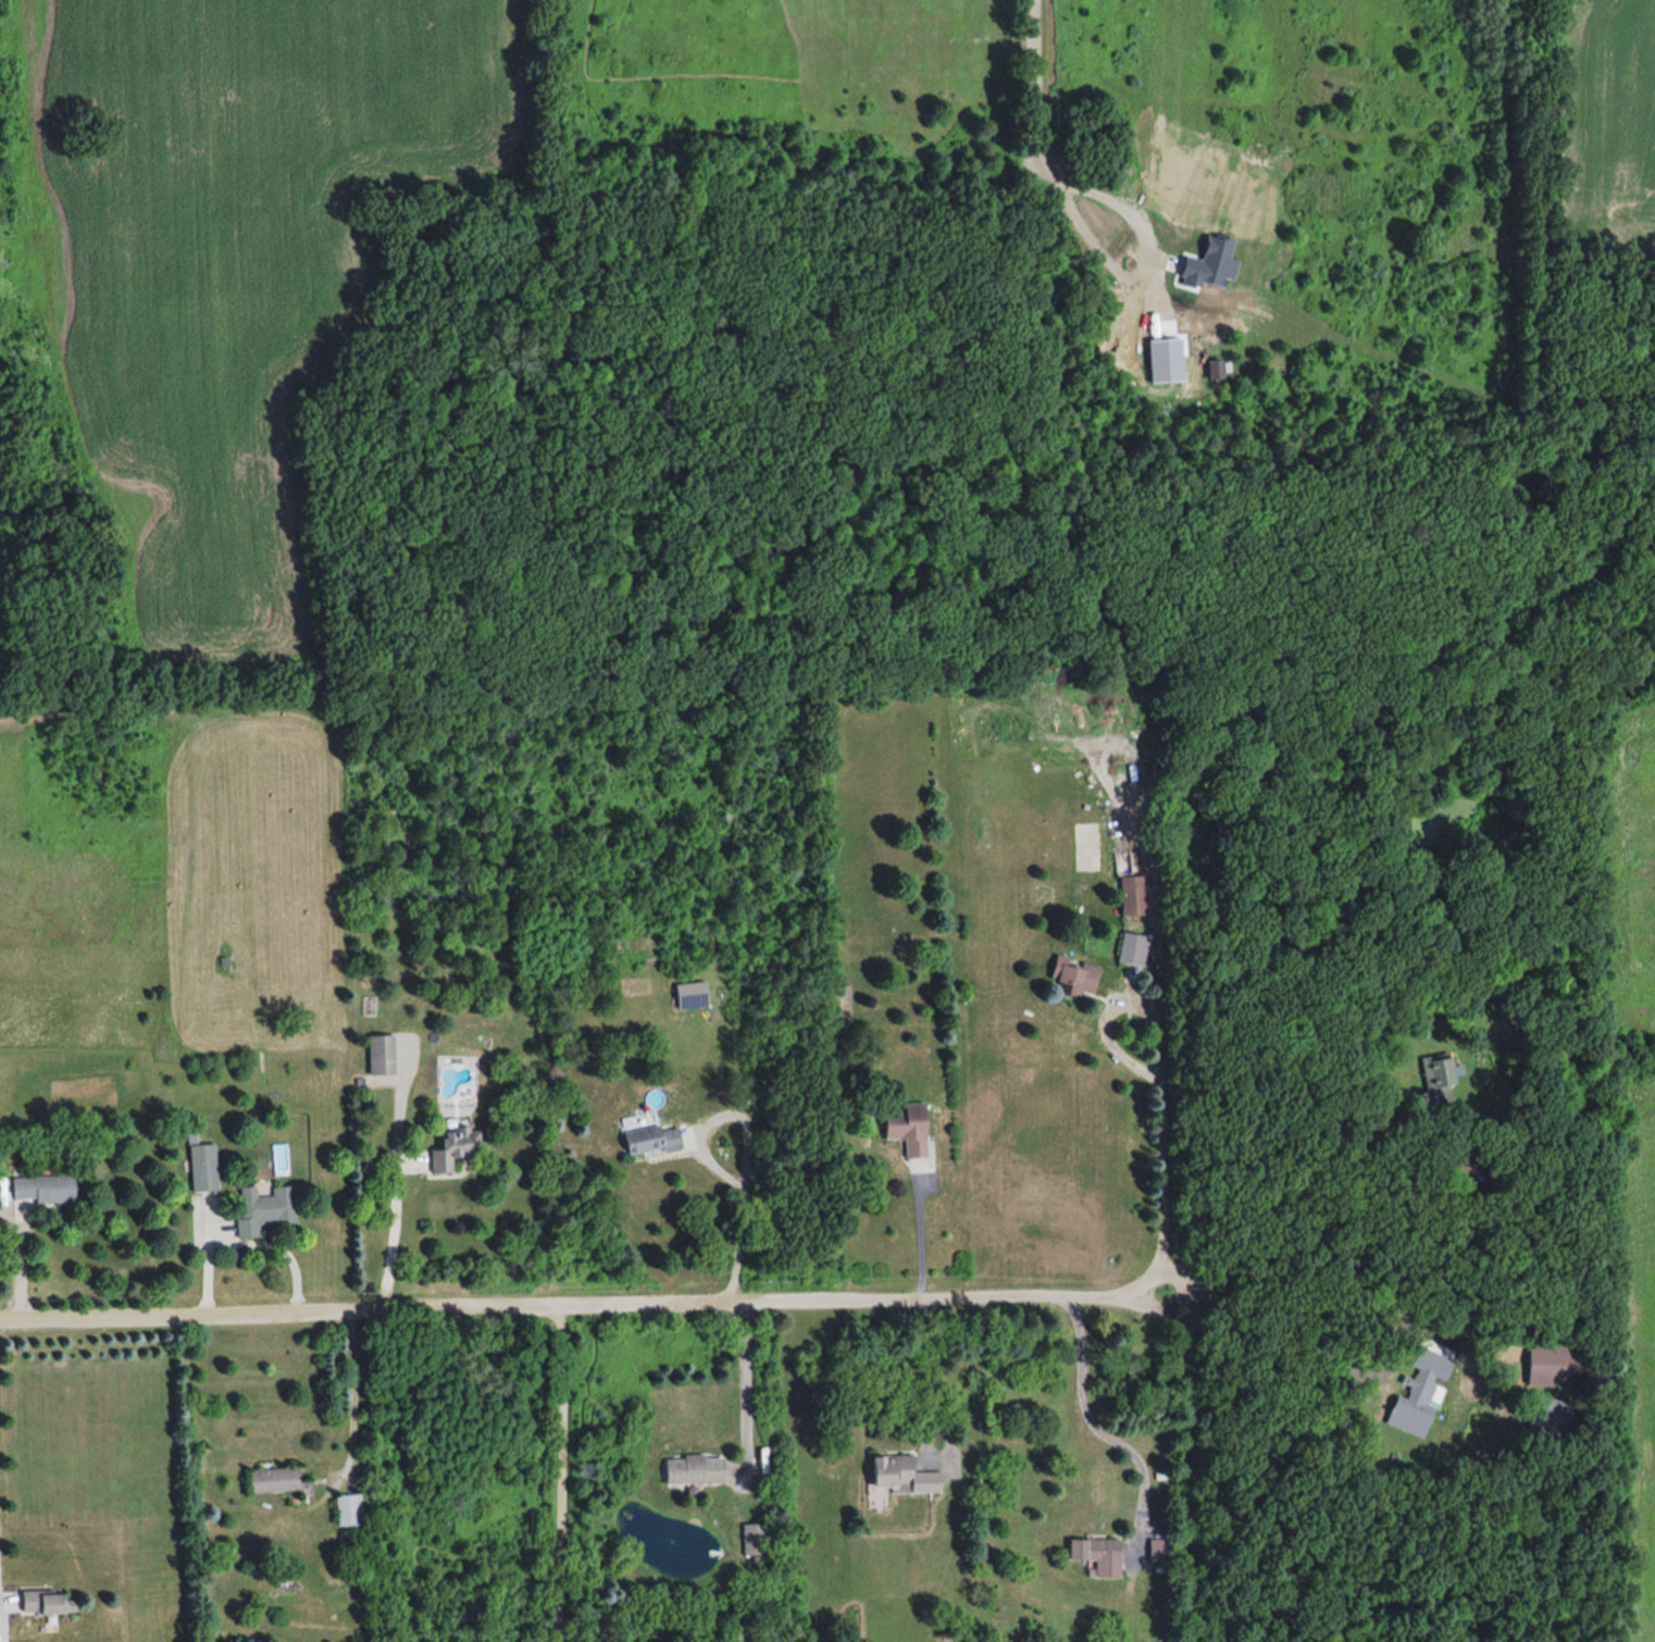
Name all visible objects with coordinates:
road: (1043, 122)
building: (1129, 894)
building: (1130, 948)
building: (1072, 975)
building: (693, 994)
building: (841, 999)
building: (384, 1053)
road: (1161, 1078)
building: (1435, 1079)
building: (911, 1127)
building: (655, 1137)
building: (458, 1145)
road: (748, 1148)
building: (203, 1164)
road: (395, 1173)
road: (1339, 1177)
building: (46, 1187)
building: (266, 1207)
road: (920, 1229)
road: (245, 1239)
road: (584, 1308)
road: (1370, 1320)
road: (747, 1385)
building: (1417, 1391)
road: (354, 1401)
road: (1086, 1411)
road: (944, 1419)
building: (698, 1468)
road: (562, 1476)
building: (905, 1476)
building: (276, 1480)
building: (350, 1509)
building: (756, 1539)
building: (1094, 1554)
building: (48, 1602)

